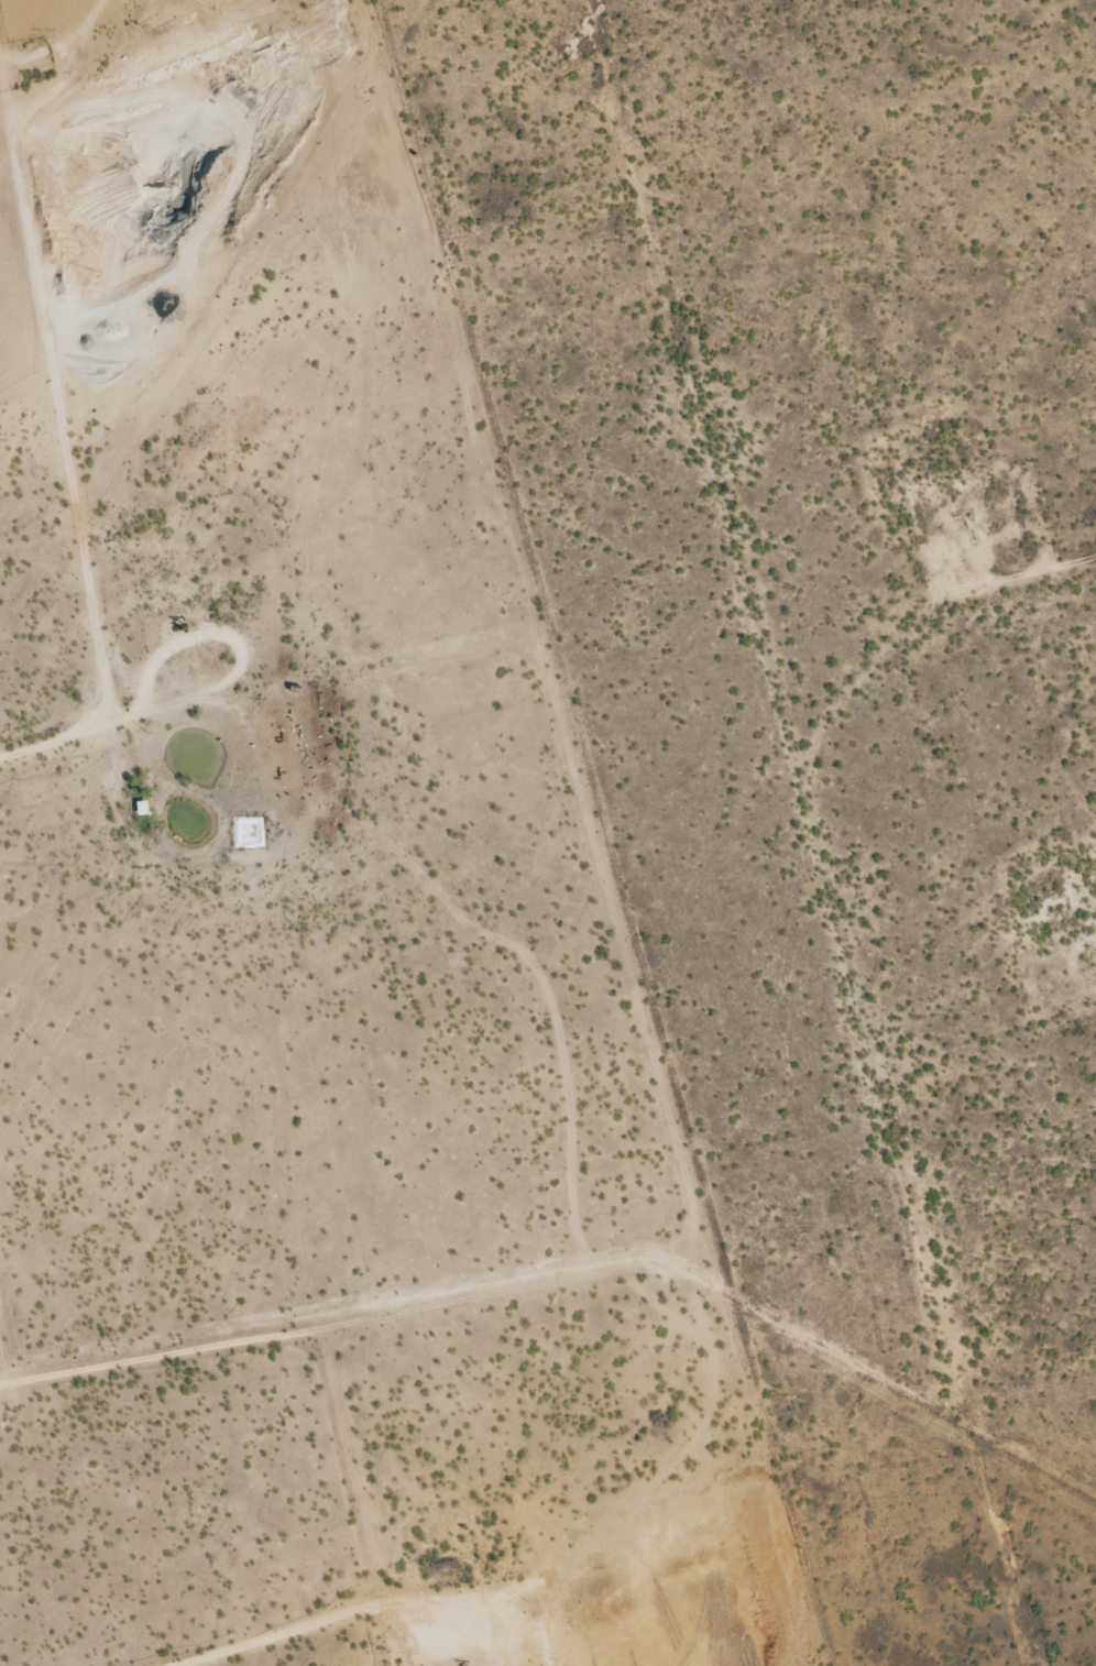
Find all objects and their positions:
road: (1082, 566)
building: (139, 807)

